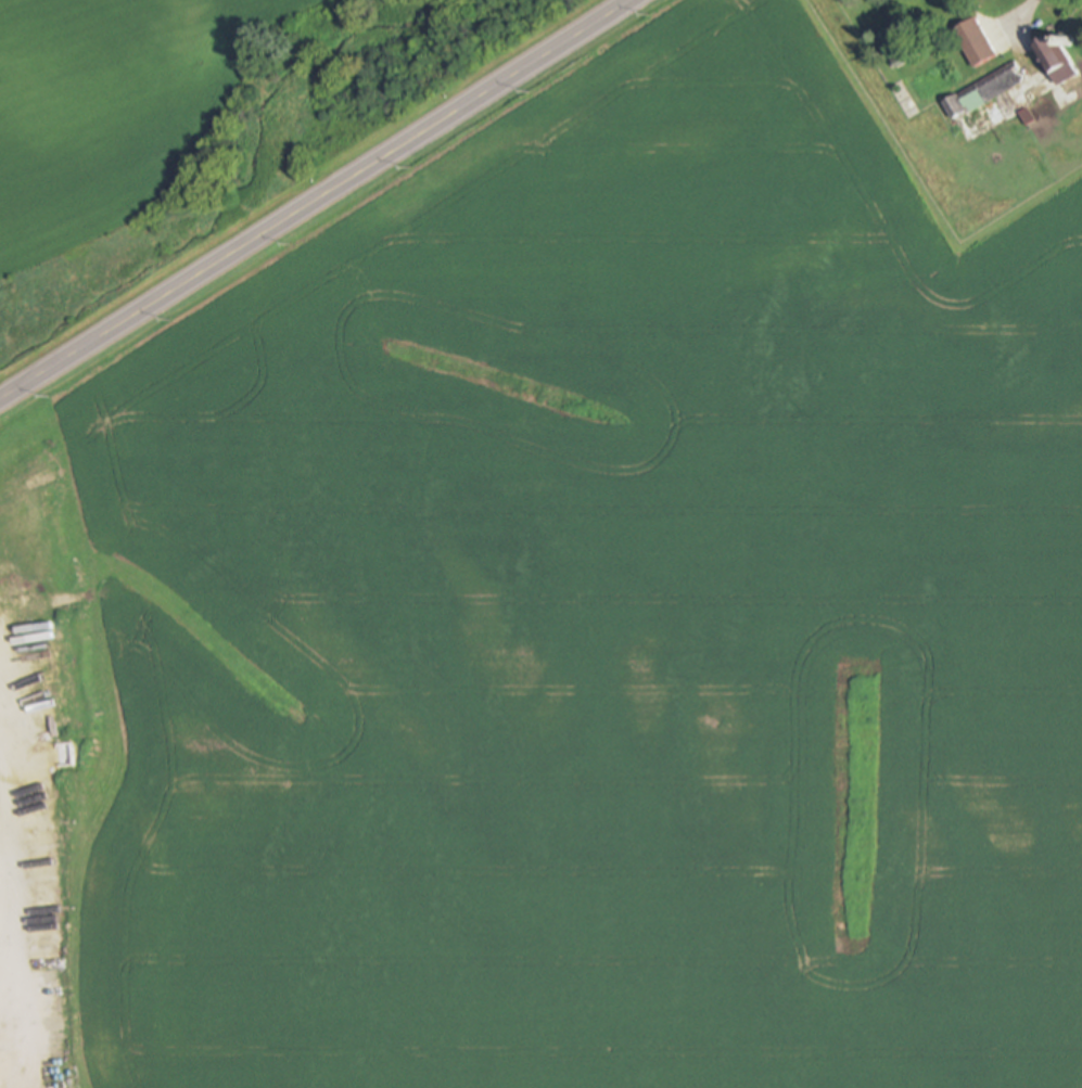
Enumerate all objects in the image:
building: (973, 43)
building: (984, 92)
road: (315, 201)

